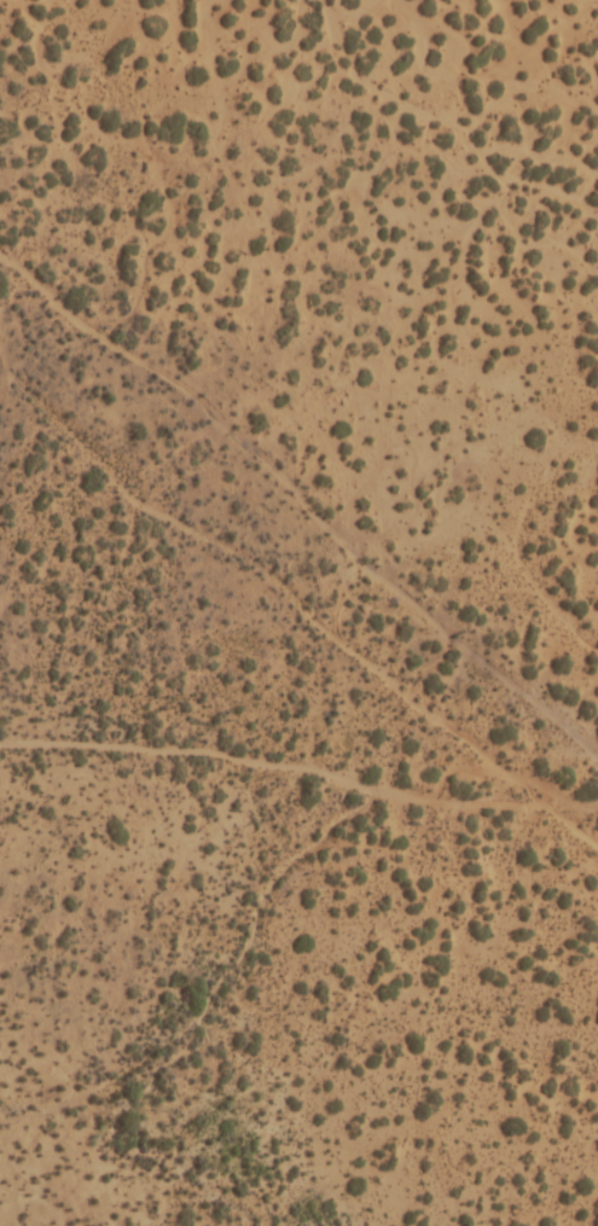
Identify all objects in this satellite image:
building: (481, 1098)

